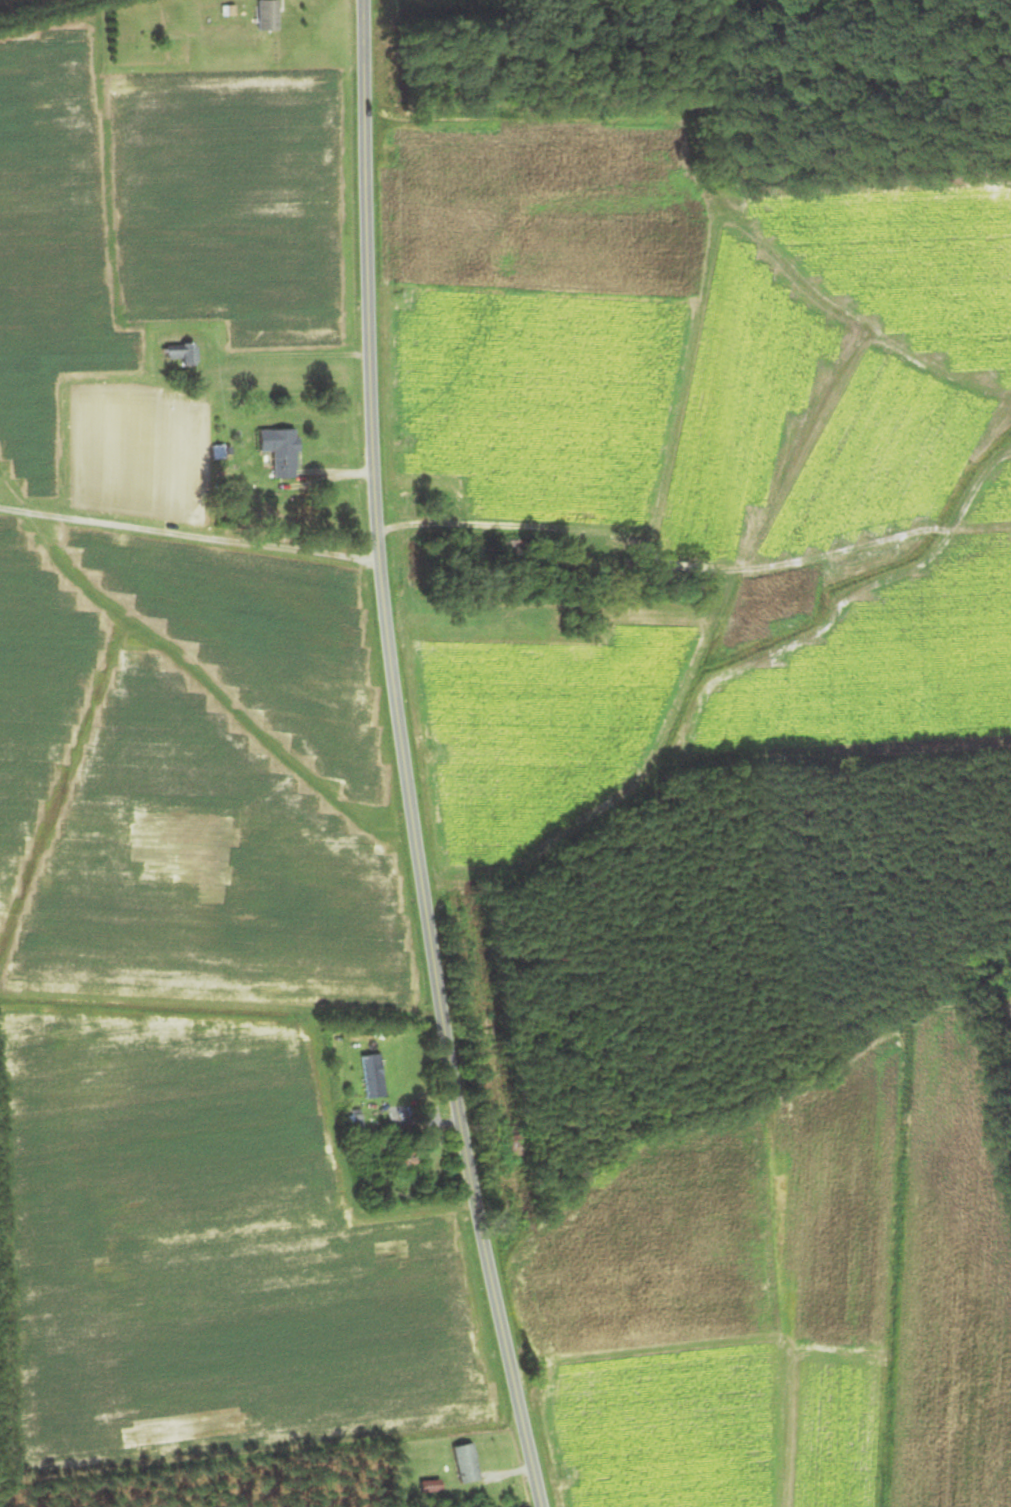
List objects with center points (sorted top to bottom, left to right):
building: (263, 15)
building: (178, 353)
building: (276, 451)
road: (187, 543)
building: (510, 560)
road: (402, 759)
building: (370, 1076)
building: (464, 1463)
building: (426, 1486)

